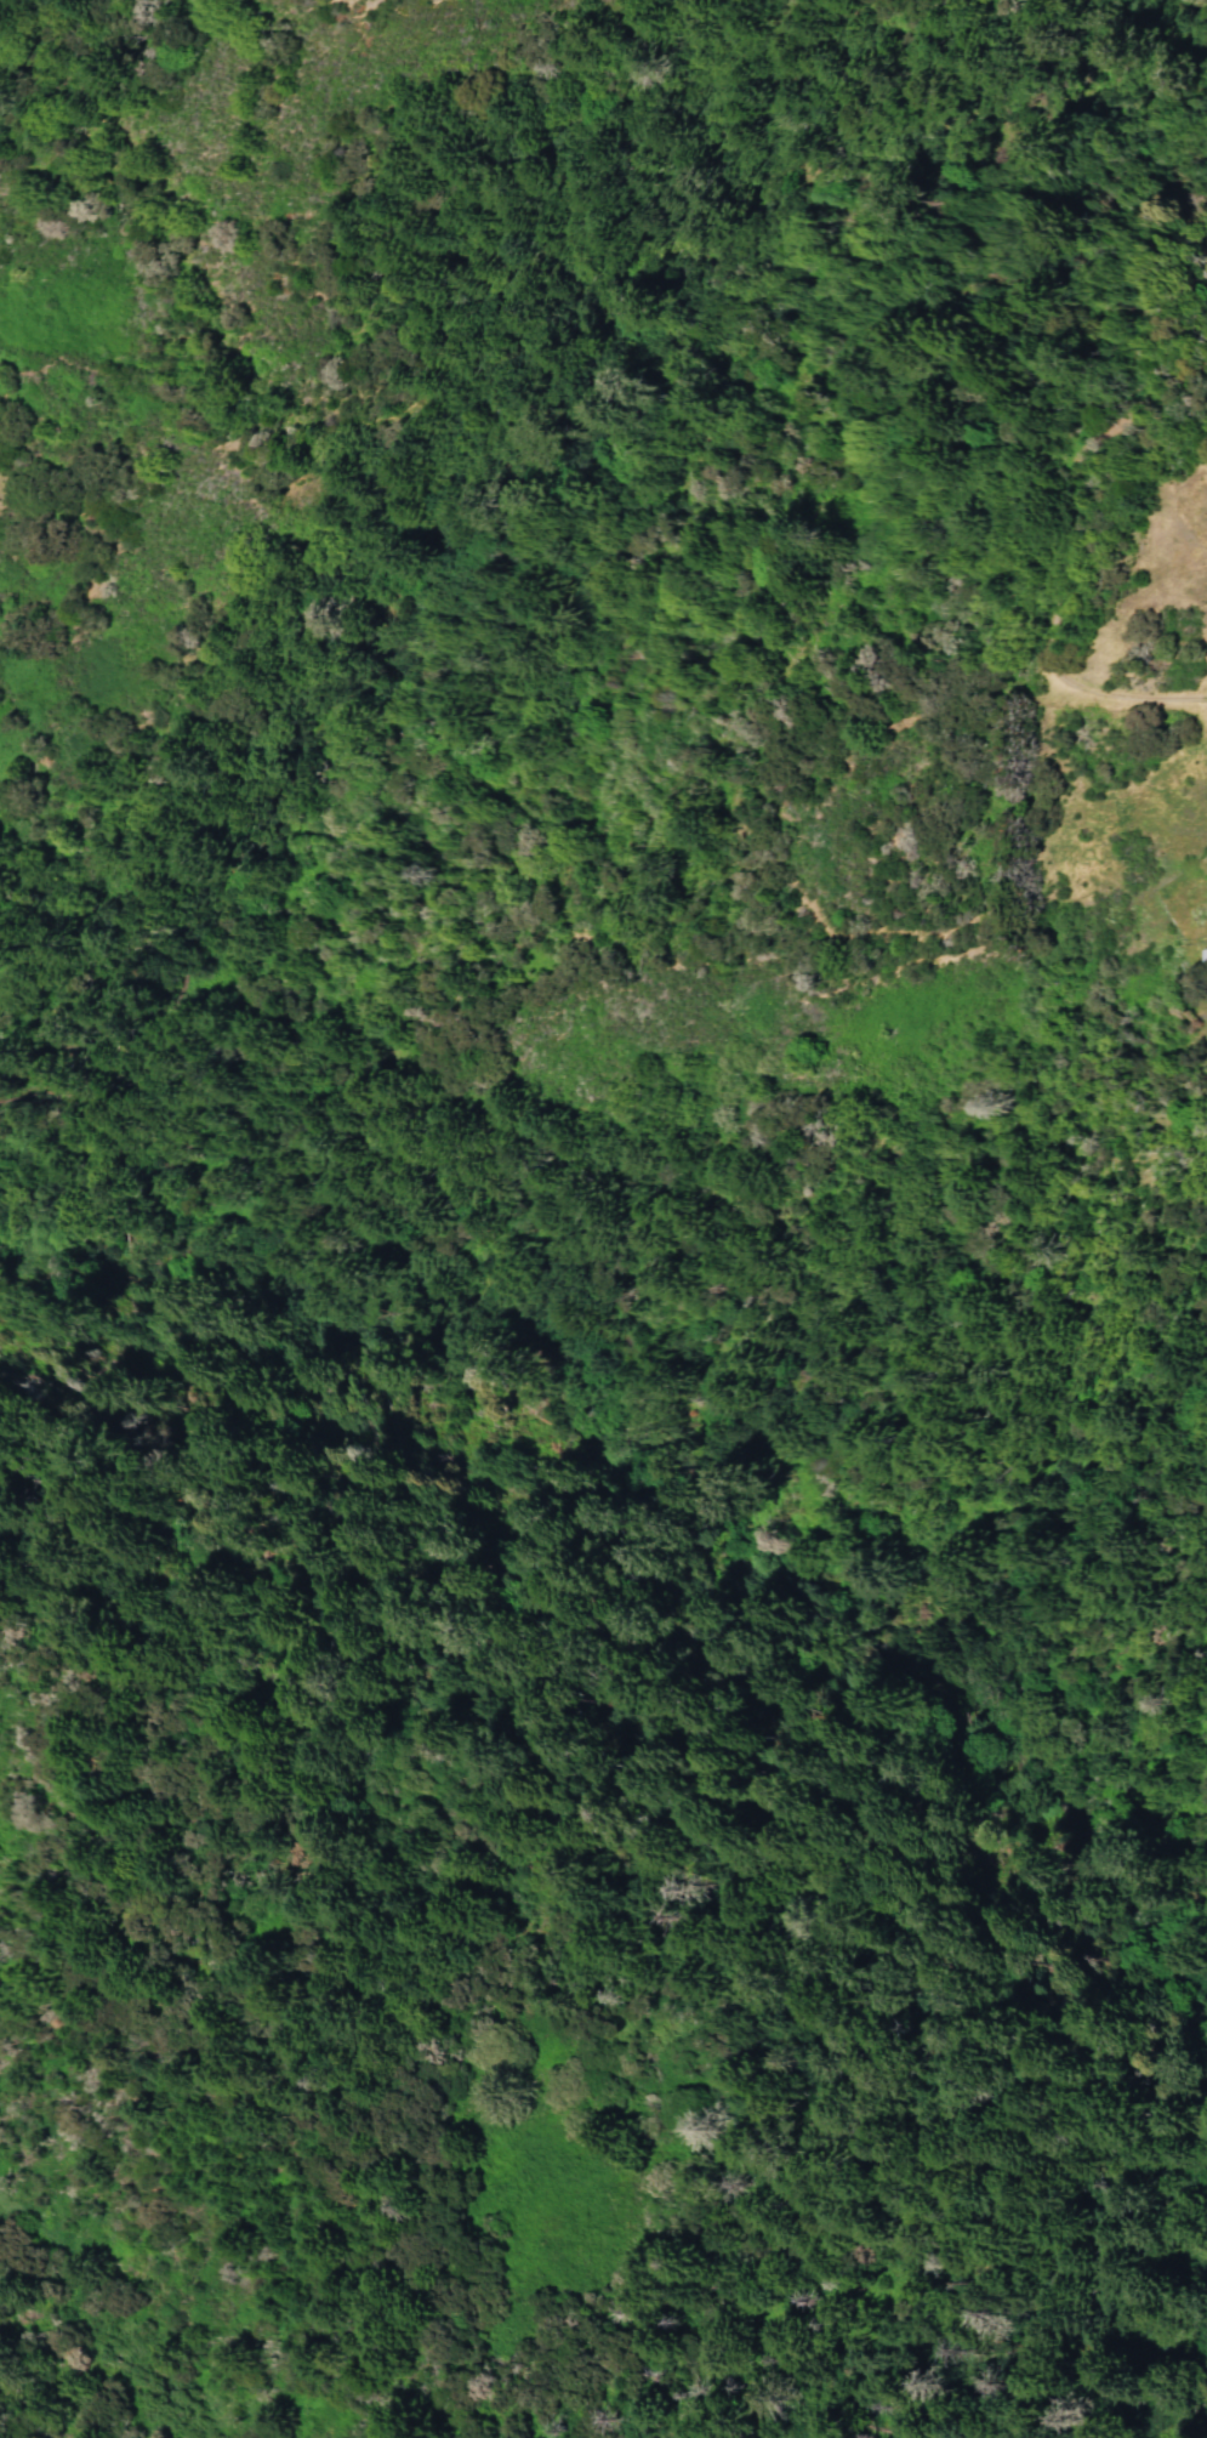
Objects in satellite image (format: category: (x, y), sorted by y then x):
road: (1046, 582)
building: (1202, 955)

